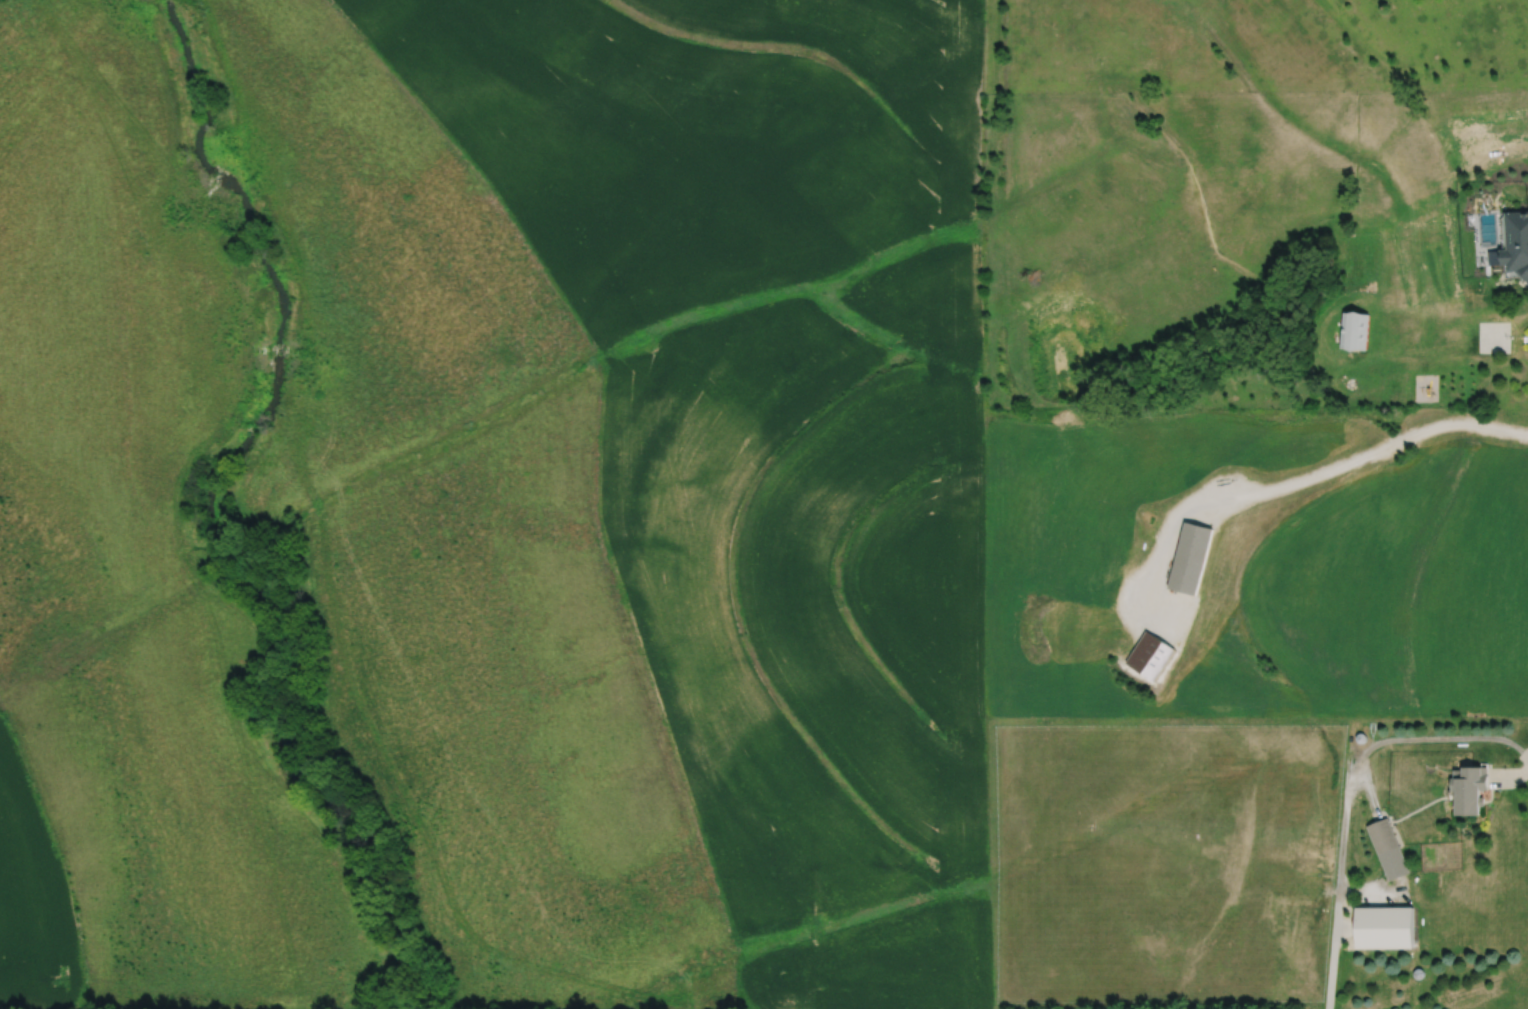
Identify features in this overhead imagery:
building: (1514, 245)
building: (1354, 330)
road: (1305, 474)
park: (313, 545)
building: (1190, 558)
road: (1511, 780)
building: (1468, 788)
road: (1347, 794)
building: (1387, 849)
airport hangar: (1384, 927)
building: (1384, 927)

